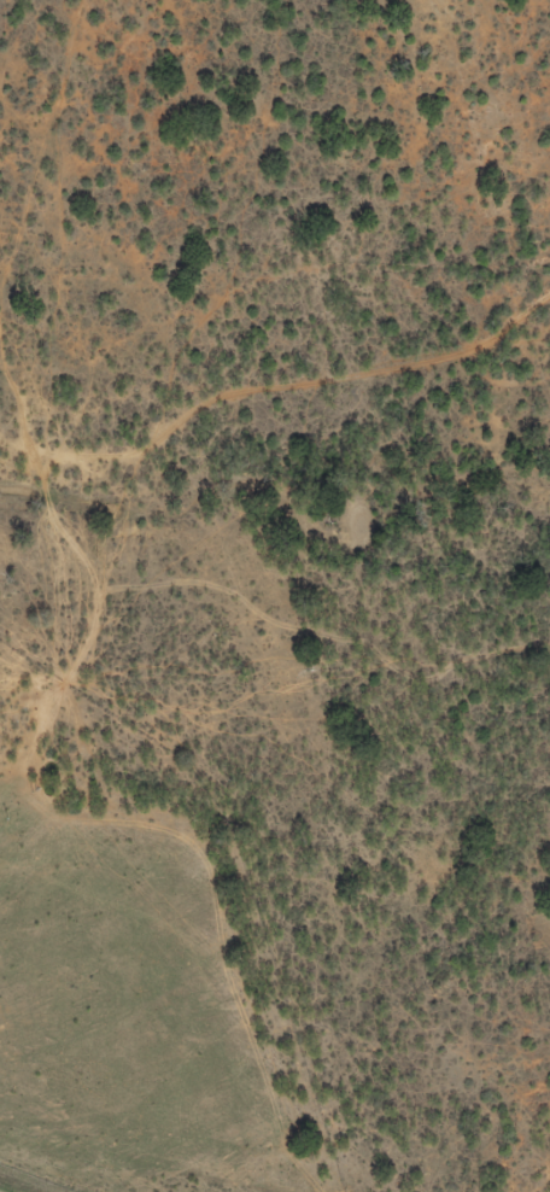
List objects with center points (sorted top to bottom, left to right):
road: (92, 609)

